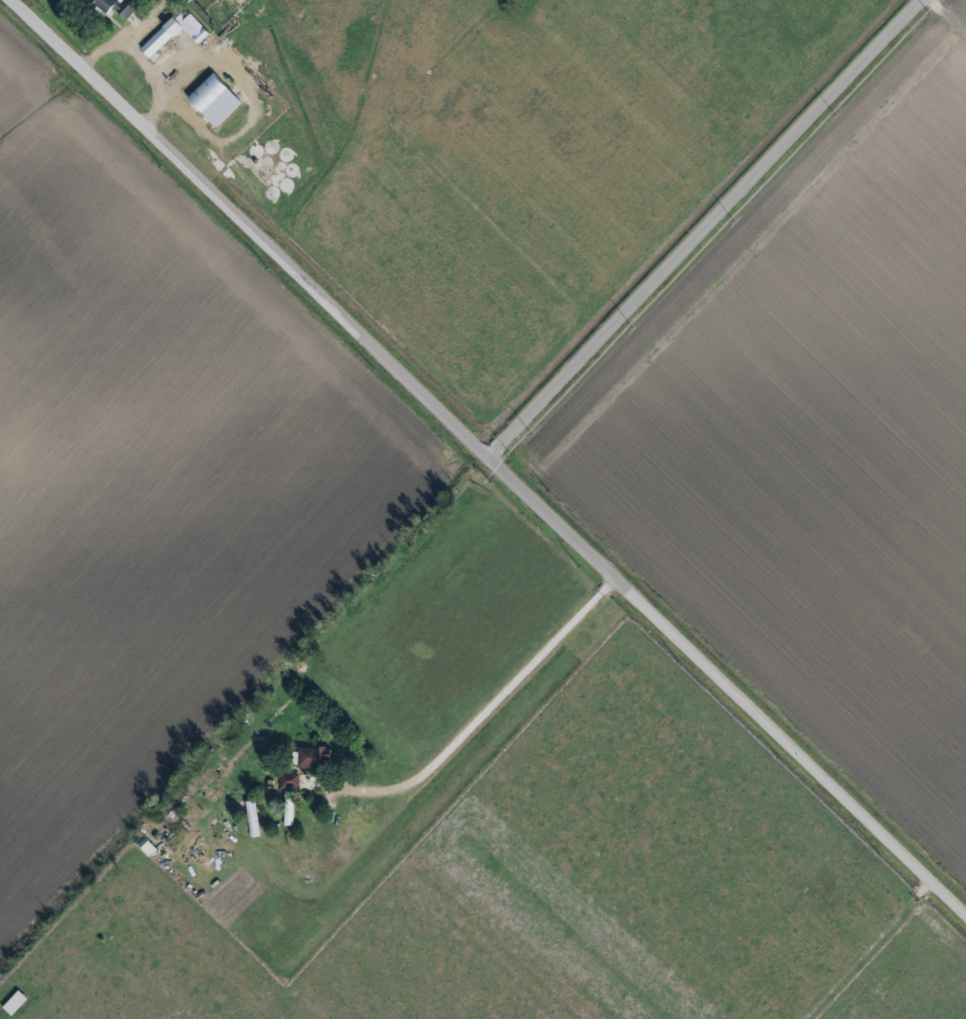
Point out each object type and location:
building: (189, 0)
building: (115, 7)
building: (174, 35)
road: (128, 37)
road: (155, 79)
building: (214, 100)
road: (250, 108)
road: (705, 228)
road: (489, 457)
road: (470, 729)
building: (315, 757)
building: (289, 781)
building: (147, 847)

